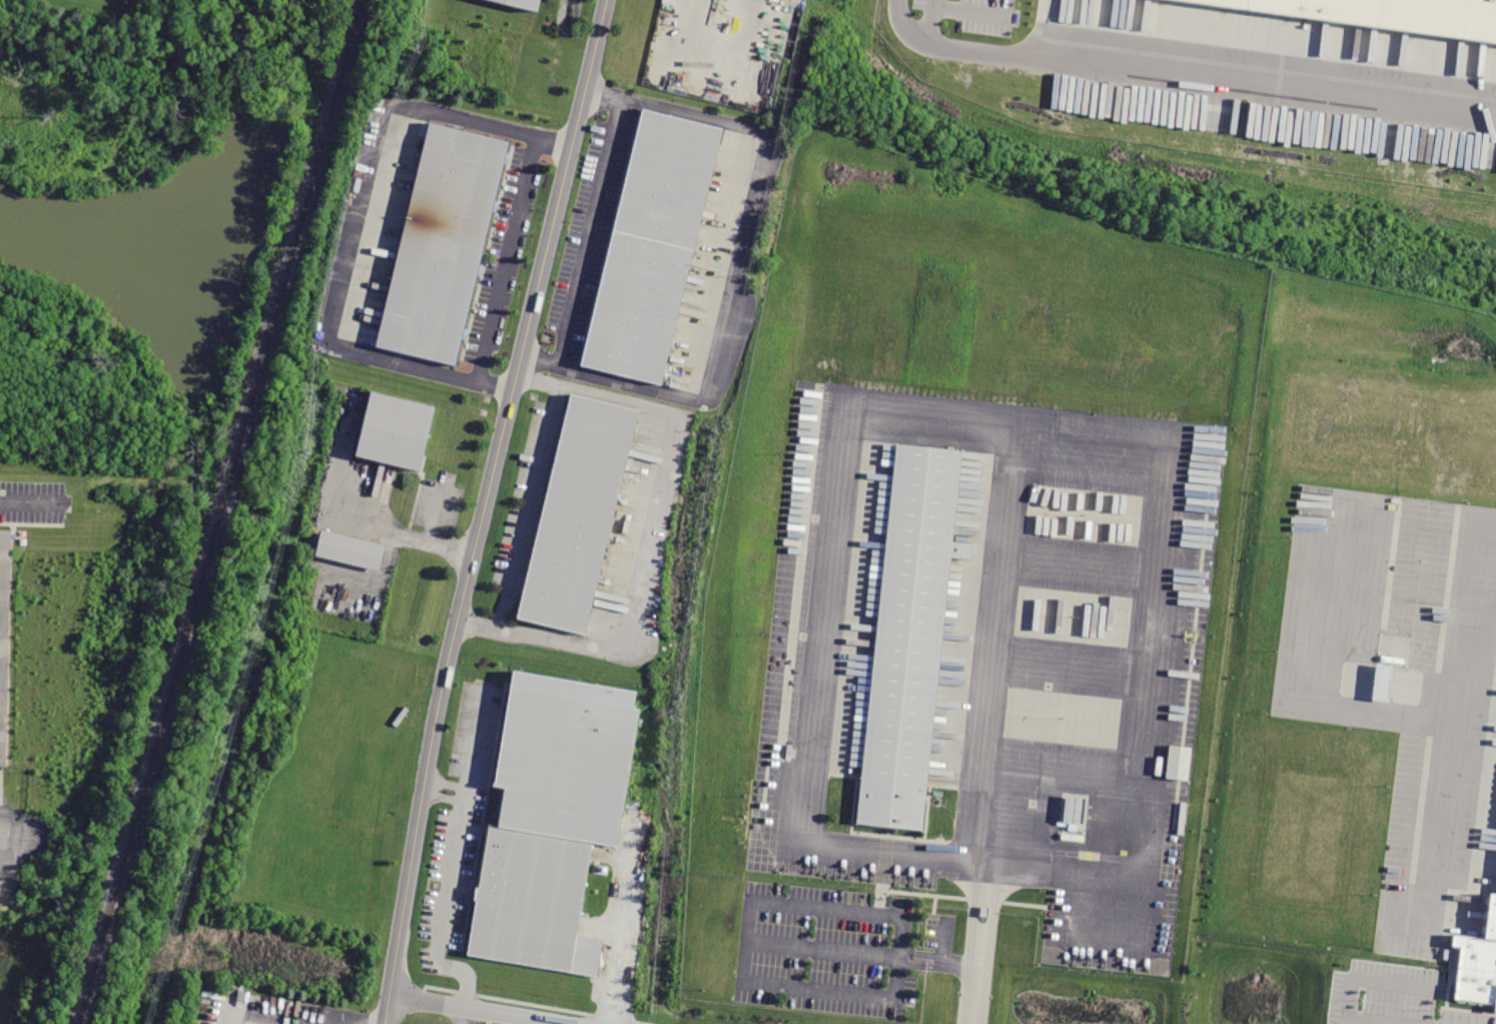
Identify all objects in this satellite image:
building: (520, 4)
road: (970, 10)
building: (1388, 15)
road: (931, 25)
road: (717, 63)
road: (1183, 79)
road: (21, 85)
road: (352, 223)
road: (588, 230)
building: (650, 245)
building: (444, 246)
road: (504, 260)
road: (736, 268)
road: (848, 403)
building: (395, 434)
road: (31, 501)
road: (530, 506)
road: (482, 509)
railway: (221, 511)
building: (581, 516)
road: (380, 529)
road: (659, 529)
road: (429, 533)
building: (353, 548)
road: (1081, 562)
building: (912, 638)
building: (5, 639)
road: (1471, 639)
road: (997, 667)
road: (1069, 667)
road: (1325, 670)
building: (1380, 682)
road: (1058, 767)
road: (447, 782)
road: (443, 796)
building: (1078, 808)
building: (555, 817)
road: (1443, 839)
road: (9, 842)
road: (1114, 904)
road: (442, 908)
road: (747, 939)
road: (945, 939)
road: (980, 939)
road: (823, 946)
road: (921, 953)
road: (960, 964)
building: (1477, 964)
road: (919, 965)
road: (1352, 979)
road: (975, 995)
road: (473, 1008)
road: (461, 1015)

